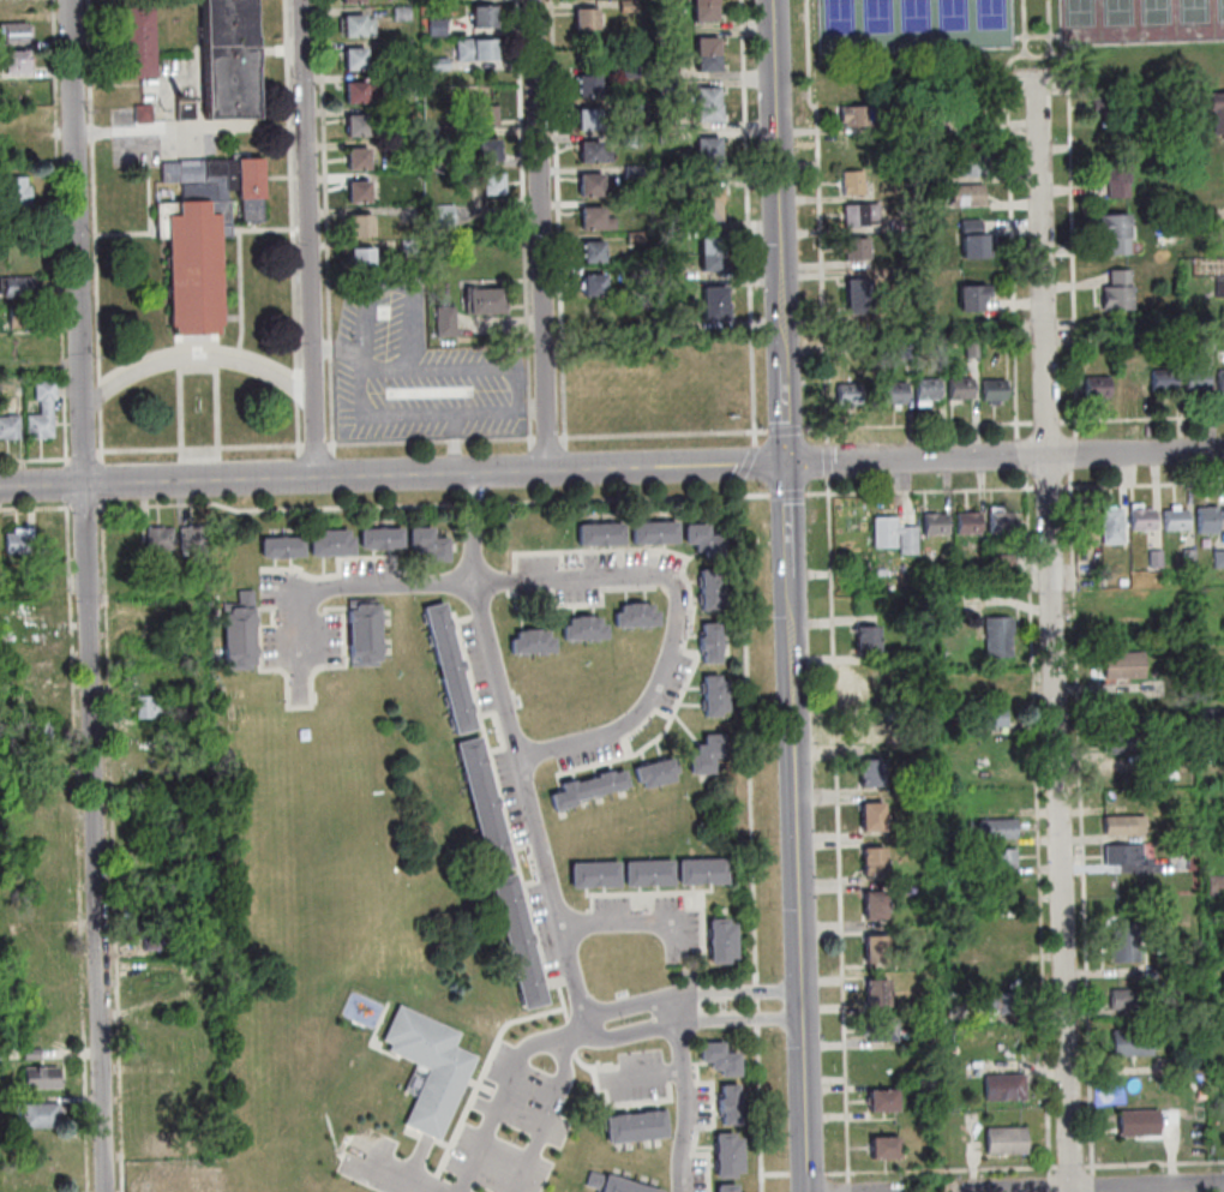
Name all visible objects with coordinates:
building: (355, 2)
building: (707, 2)
building: (630, 7)
building: (404, 14)
building: (708, 14)
building: (486, 17)
building: (588, 19)
park: (1139, 20)
park: (912, 25)
building: (360, 28)
building: (439, 28)
building: (426, 32)
building: (17, 34)
road: (1034, 35)
building: (139, 44)
park: (1015, 44)
building: (404, 47)
building: (709, 47)
building: (479, 52)
road: (1036, 55)
building: (232, 60)
building: (358, 60)
building: (18, 64)
building: (710, 64)
building: (442, 65)
building: (632, 72)
building: (667, 73)
road: (1038, 80)
building: (407, 82)
parking lot: (1038, 82)
building: (594, 88)
building: (670, 89)
building: (362, 92)
road: (1037, 94)
building: (710, 97)
chimney: (184, 102)
building: (634, 106)
building: (1108, 108)
building: (188, 112)
building: (971, 112)
building: (1219, 112)
building: (409, 113)
building: (145, 114)
building: (712, 114)
building: (859, 116)
building: (487, 118)
building: (594, 121)
building: (671, 122)
building: (360, 127)
road: (232, 130)
building: (937, 131)
road: (142, 132)
building: (446, 132)
building: (671, 138)
building: (632, 140)
building: (710, 148)
building: (490, 151)
building: (595, 154)
building: (361, 160)
road: (781, 160)
building: (710, 163)
building: (974, 167)
building: (636, 173)
building: (671, 173)
building: (1117, 178)
building: (856, 184)
building: (496, 185)
building: (593, 186)
building: (212, 191)
building: (361, 193)
building: (19, 196)
building: (970, 196)
building: (710, 197)
building: (712, 214)
building: (864, 214)
building: (446, 216)
road: (526, 220)
road: (560, 220)
building: (598, 220)
road: (822, 221)
road: (328, 222)
road: (750, 223)
road: (294, 228)
building: (364, 228)
building: (901, 228)
road: (97, 233)
road: (61, 234)
building: (1118, 234)
road: (542, 235)
road: (311, 238)
road: (1070, 238)
building: (637, 239)
road: (1010, 240)
building: (974, 241)
building: (713, 247)
building: (412, 248)
building: (858, 250)
building: (5, 253)
building: (595, 253)
building: (365, 260)
building: (714, 264)
building: (198, 271)
building: (902, 276)
building: (596, 287)
building: (22, 288)
building: (1222, 289)
building: (1120, 293)
building: (718, 296)
building: (860, 299)
building: (974, 299)
building: (488, 303)
road: (415, 306)
building: (595, 313)
building: (18, 315)
building: (718, 315)
building: (449, 323)
building: (1212, 337)
building: (973, 348)
building: (908, 349)
road: (199, 359)
road: (386, 371)
parking lot: (418, 372)
building: (1199, 381)
building: (1129, 382)
building: (1165, 382)
building: (1222, 382)
building: (1099, 389)
building: (962, 391)
road: (787, 393)
building: (929, 393)
building: (996, 393)
building: (851, 395)
building: (896, 395)
building: (46, 413)
road: (433, 415)
road: (1141, 420)
road: (1045, 421)
road: (919, 426)
building: (11, 429)
road: (788, 430)
road: (665, 435)
road: (548, 439)
road: (434, 442)
road: (318, 445)
road: (1018, 448)
road: (203, 450)
road: (830, 454)
road: (1075, 454)
road: (86, 457)
road: (36, 461)
traffic signals: (790, 463)
road: (750, 465)
road: (302, 467)
road: (611, 468)
road: (106, 483)
road: (70, 485)
road: (1144, 485)
road: (1051, 489)
road: (923, 491)
road: (790, 496)
road: (629, 499)
road: (476, 504)
road: (88, 508)
road: (37, 509)
road: (284, 509)
building: (1144, 520)
building: (1178, 520)
building: (1210, 521)
building: (1003, 522)
building: (852, 525)
building: (970, 525)
building: (937, 526)
building: (1090, 528)
building: (1116, 528)
building: (667, 534)
building: (646, 535)
building: (592, 537)
building: (613, 537)
building: (896, 537)
building: (698, 538)
building: (424, 539)
building: (162, 540)
building: (374, 540)
building: (396, 540)
building: (197, 543)
building: (20, 544)
road: (791, 544)
building: (344, 545)
building: (325, 546)
building: (275, 550)
building: (296, 550)
building: (715, 550)
building: (442, 552)
building: (1192, 558)
building: (1158, 561)
building: (1220, 561)
building: (714, 583)
building: (1126, 583)
road: (354, 588)
road: (90, 595)
building: (1111, 598)
building: (714, 603)
building: (648, 617)
building: (366, 618)
building: (628, 618)
road: (678, 618)
building: (576, 631)
building: (595, 631)
building: (242, 634)
road: (1056, 635)
building: (712, 636)
building: (1000, 640)
building: (870, 642)
building: (526, 645)
building: (546, 645)
building: (367, 651)
building: (712, 655)
building: (1127, 667)
building: (37, 670)
building: (452, 671)
building: (870, 688)
building: (716, 689)
building: (716, 708)
building: (152, 709)
building: (197, 709)
building: (995, 718)
building: (1213, 718)
building: (871, 732)
building: (43, 733)
building: (1121, 744)
building: (1177, 744)
building: (715, 749)
road: (516, 754)
building: (703, 765)
building: (668, 773)
building: (874, 777)
building: (649, 778)
building: (619, 783)
building: (601, 787)
building: (583, 792)
building: (566, 801)
building: (487, 808)
building: (875, 820)
road: (798, 821)
road: (1084, 825)
building: (1128, 828)
building: (1000, 831)
road: (754, 837)
road: (115, 845)
road: (82, 846)
building: (1126, 856)
building: (1004, 861)
building: (876, 864)
building: (716, 874)
building: (694, 875)
building: (662, 876)
building: (608, 877)
building: (640, 877)
building: (584, 879)
building: (1217, 887)
building: (166, 889)
building: (877, 909)
road: (632, 921)
building: (724, 934)
building: (160, 942)
building: (1000, 942)
building: (522, 944)
building: (1127, 945)
building: (878, 953)
building: (725, 956)
building: (880, 996)
road: (646, 1001)
building: (1128, 1001)
building: (1006, 1006)
building: (1184, 1008)
road: (742, 1019)
building: (883, 1035)
road: (558, 1042)
building: (1134, 1044)
building: (34, 1055)
building: (882, 1060)
road: (565, 1061)
building: (722, 1062)
building: (432, 1071)
road: (642, 1074)
building: (44, 1079)
building: (1007, 1090)
road: (683, 1092)
building: (731, 1097)
road: (806, 1104)
building: (886, 1104)
building: (43, 1118)
building: (732, 1118)
road: (491, 1121)
building: (1141, 1126)
building: (638, 1131)
road: (540, 1137)
building: (1008, 1144)
building: (731, 1149)
building: (887, 1151)
road: (1154, 1163)
road: (1073, 1168)
road: (398, 1169)
building: (731, 1170)
road: (943, 1170)
road: (1052, 1173)
road: (779, 1175)
road: (810, 1175)
road: (851, 1179)
building: (612, 1185)
road: (1052, 1185)
road: (1096, 1185)
road: (851, 1187)
road: (1094, 1187)
building: (730, 1190)

